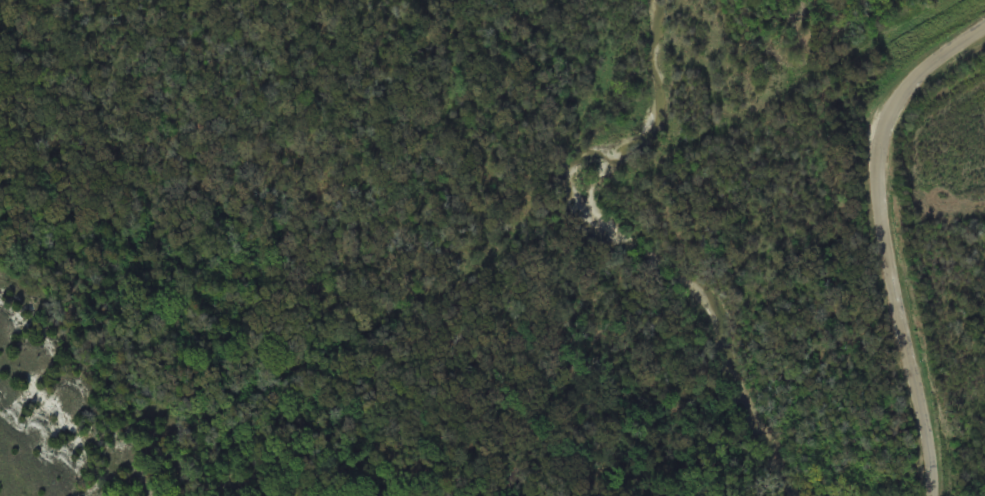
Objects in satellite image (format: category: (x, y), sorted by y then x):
road: (892, 244)

